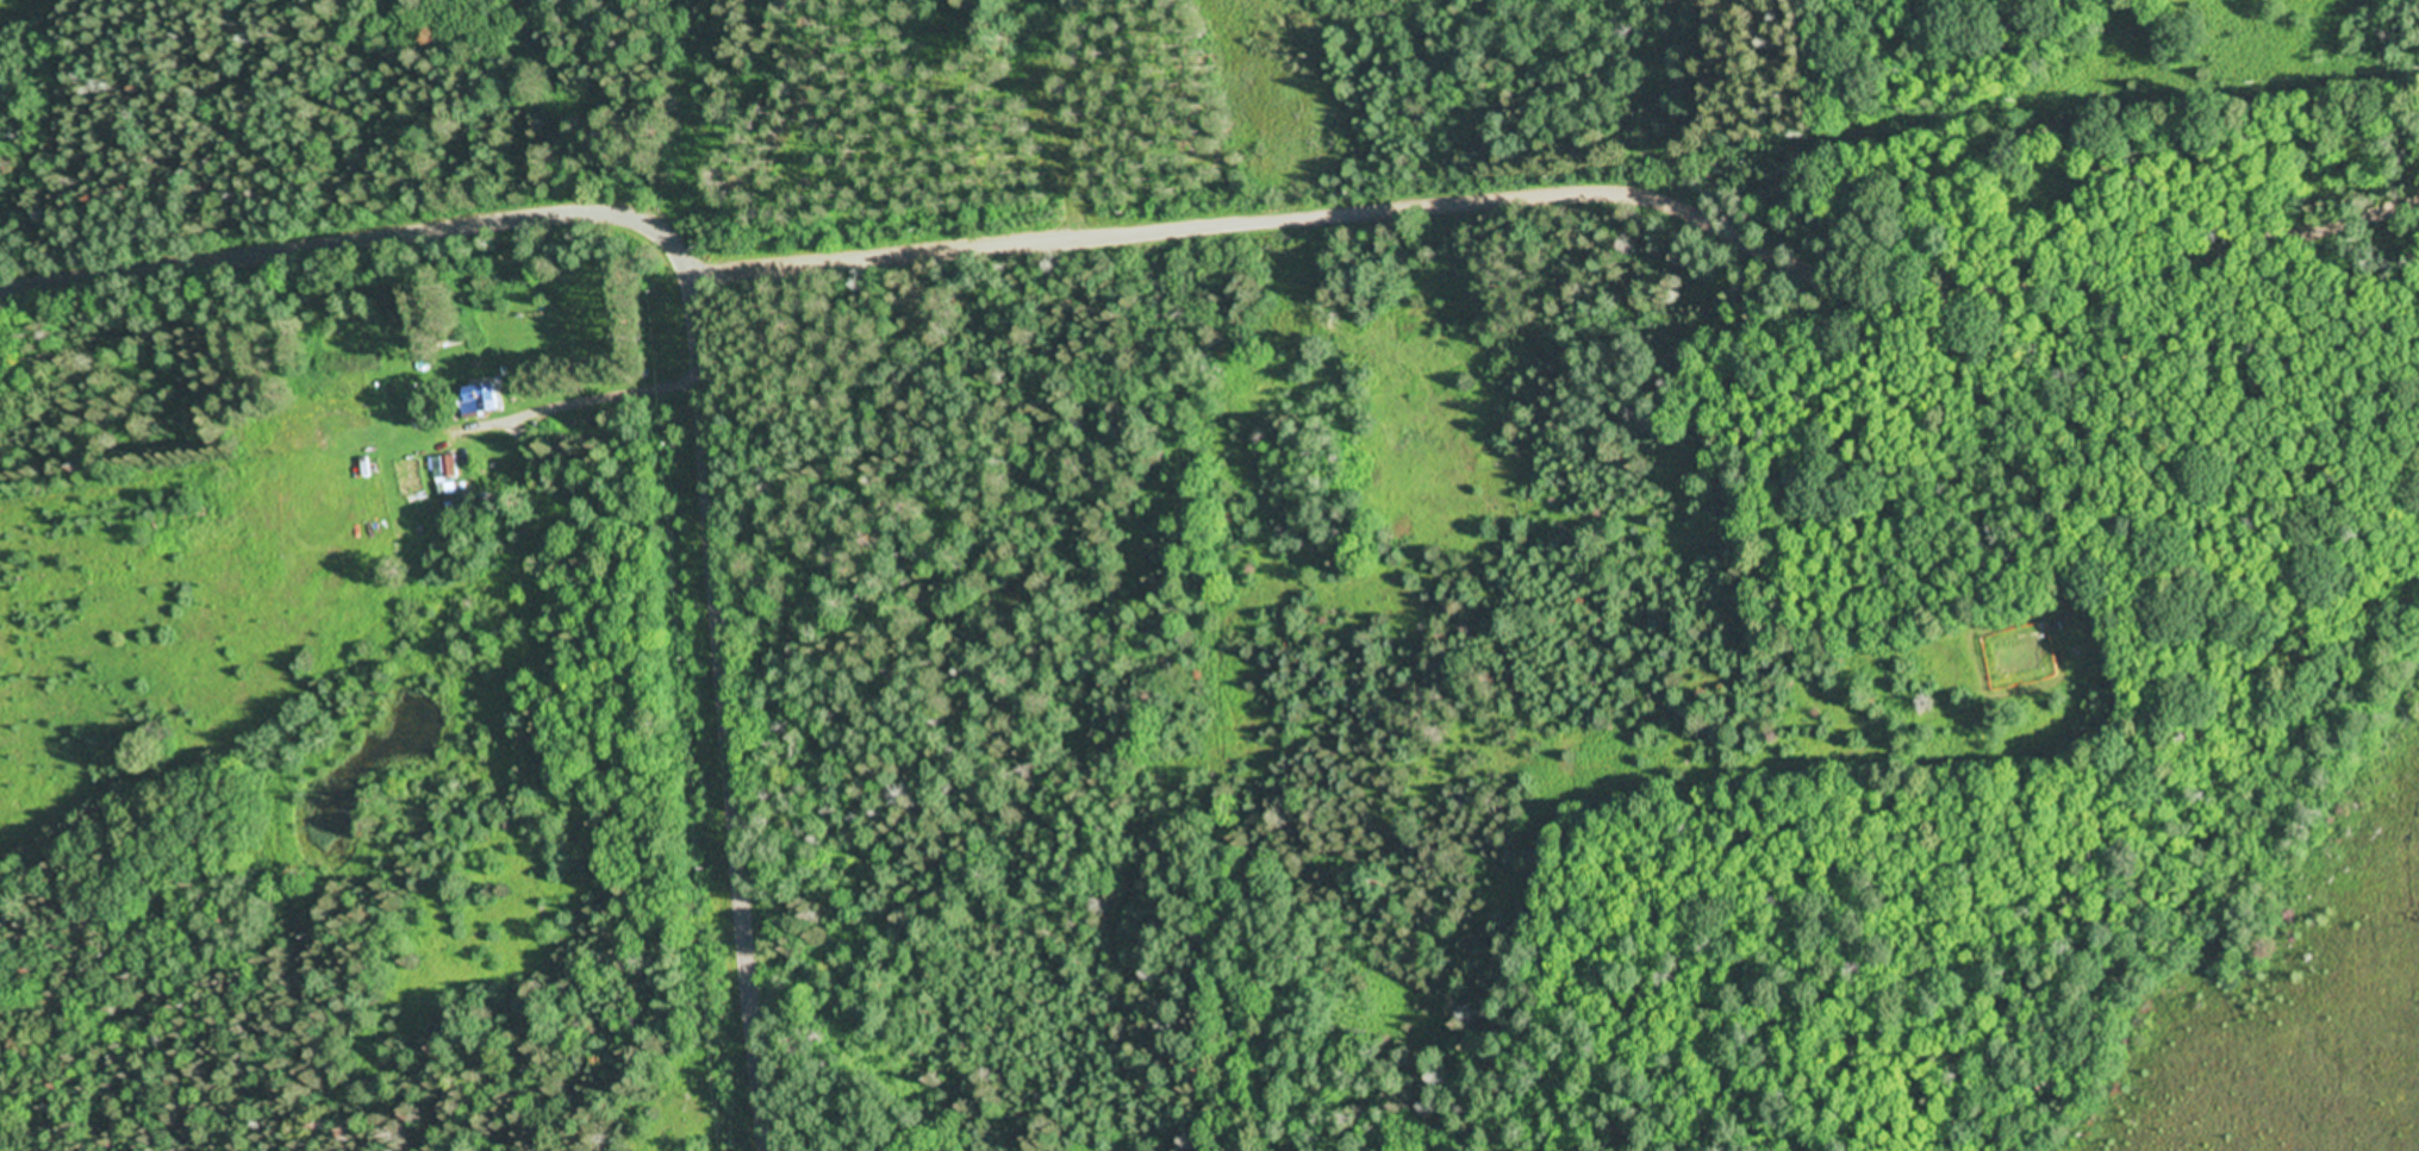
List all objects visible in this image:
road: (1570, 189)
road: (2301, 308)
road: (707, 346)

